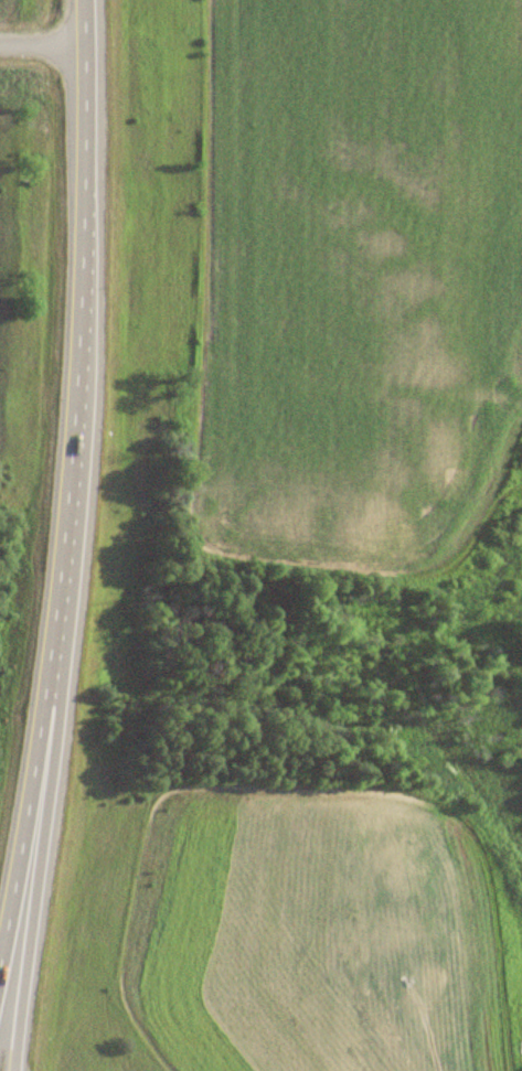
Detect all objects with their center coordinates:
road: (41, 49)
road: (65, 474)
road: (38, 853)

